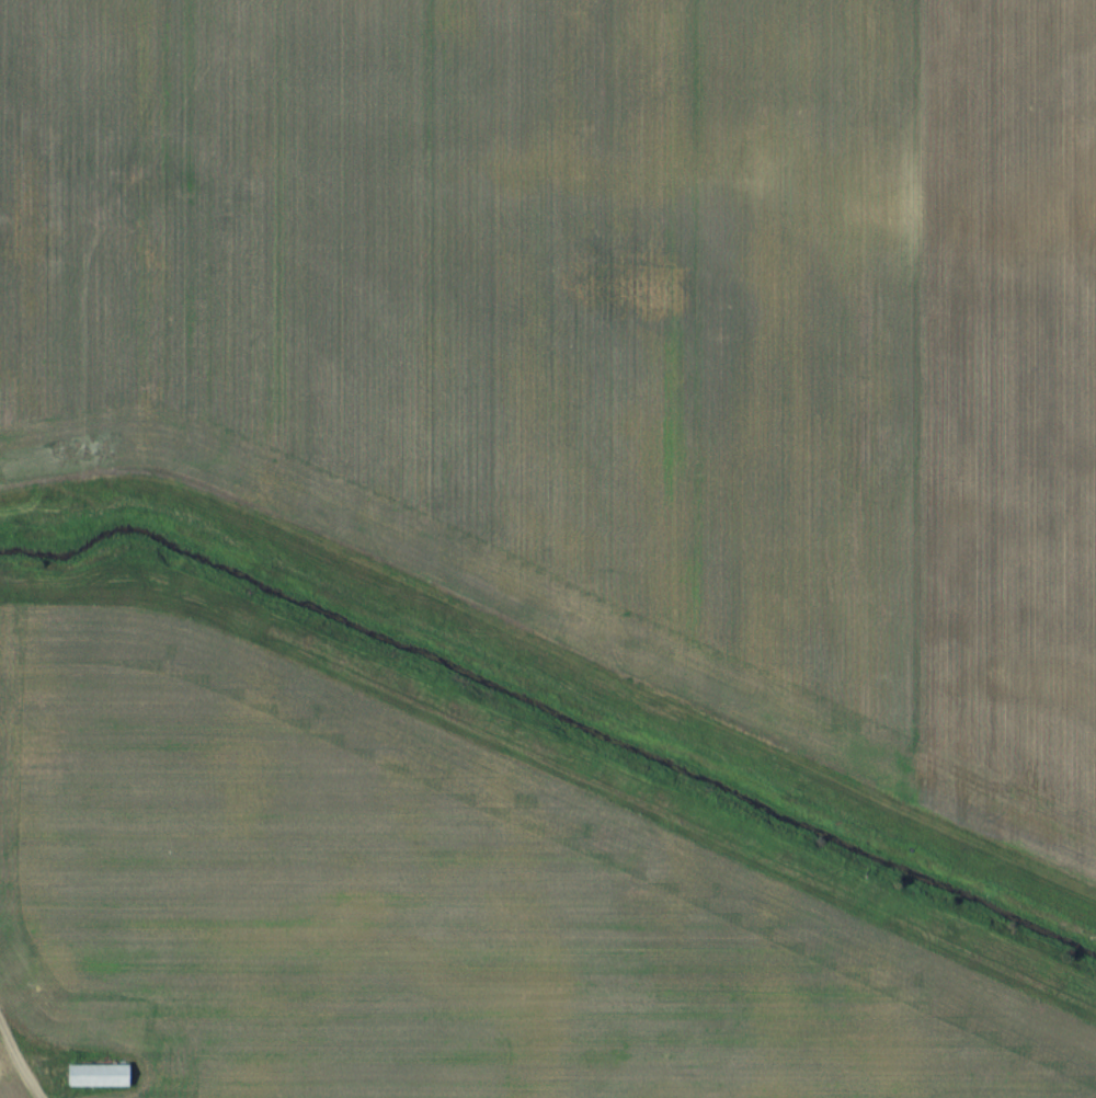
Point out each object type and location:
building: (96, 1075)
road: (50, 1097)

